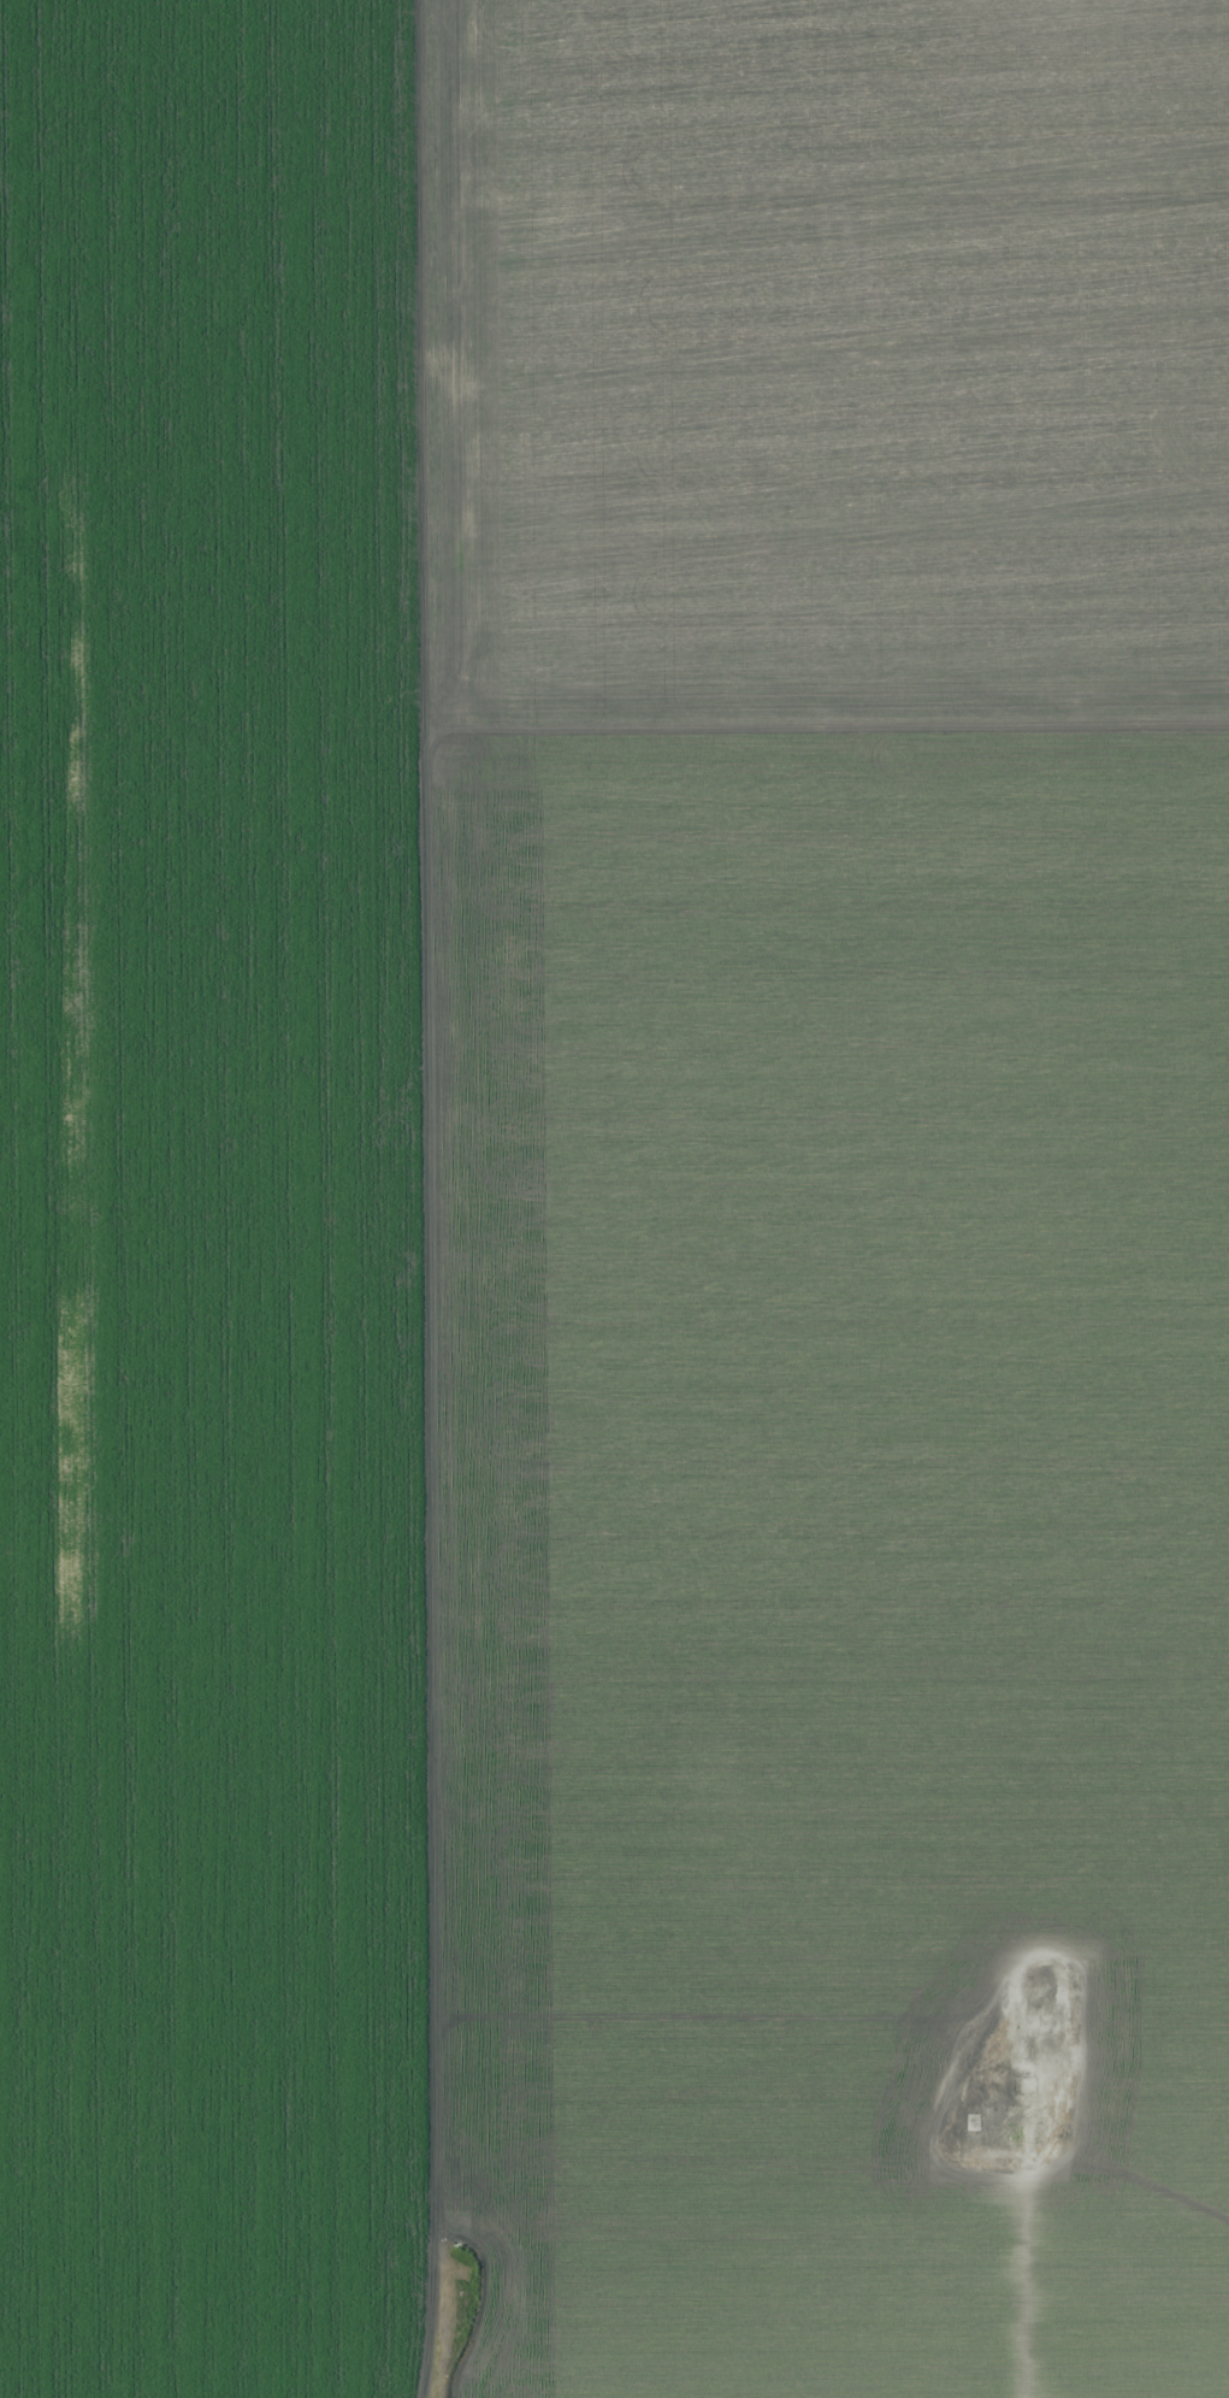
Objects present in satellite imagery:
building: (1042, 1986)
building: (1028, 2085)
building: (991, 2105)

